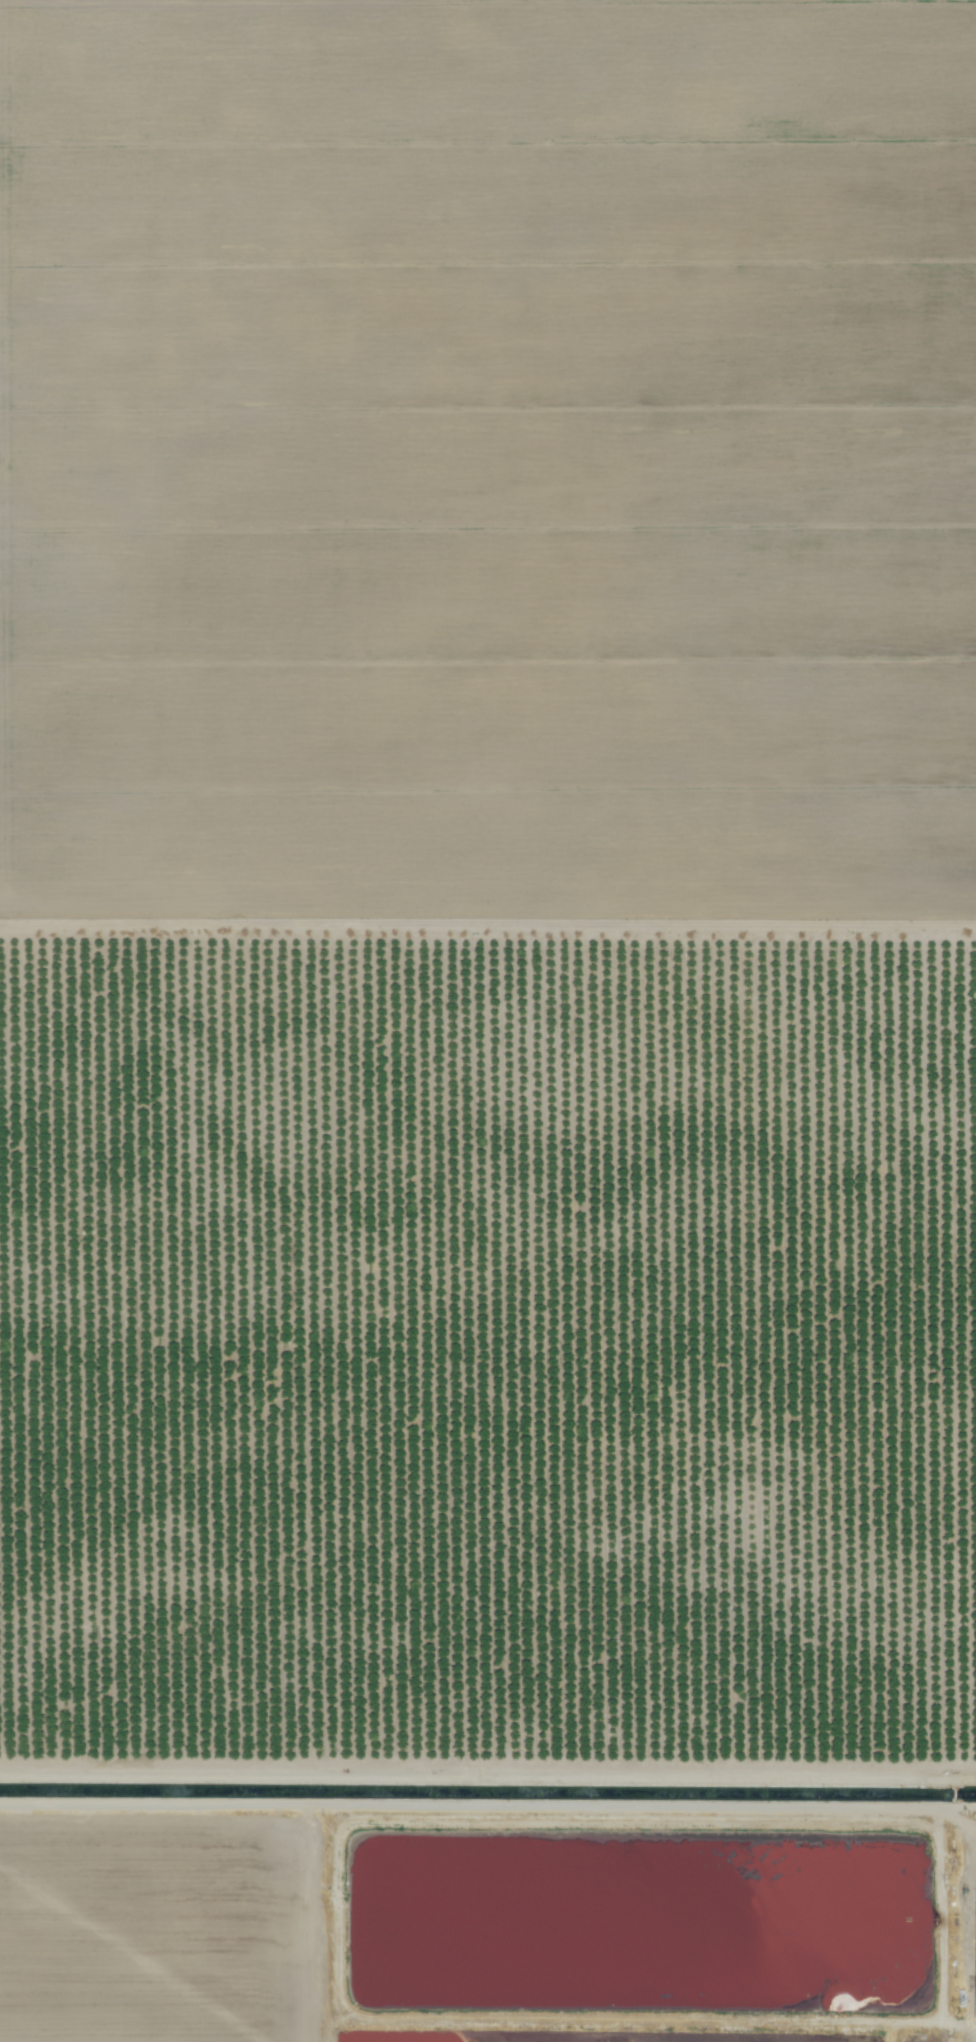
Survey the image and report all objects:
building: (975, 1999)

